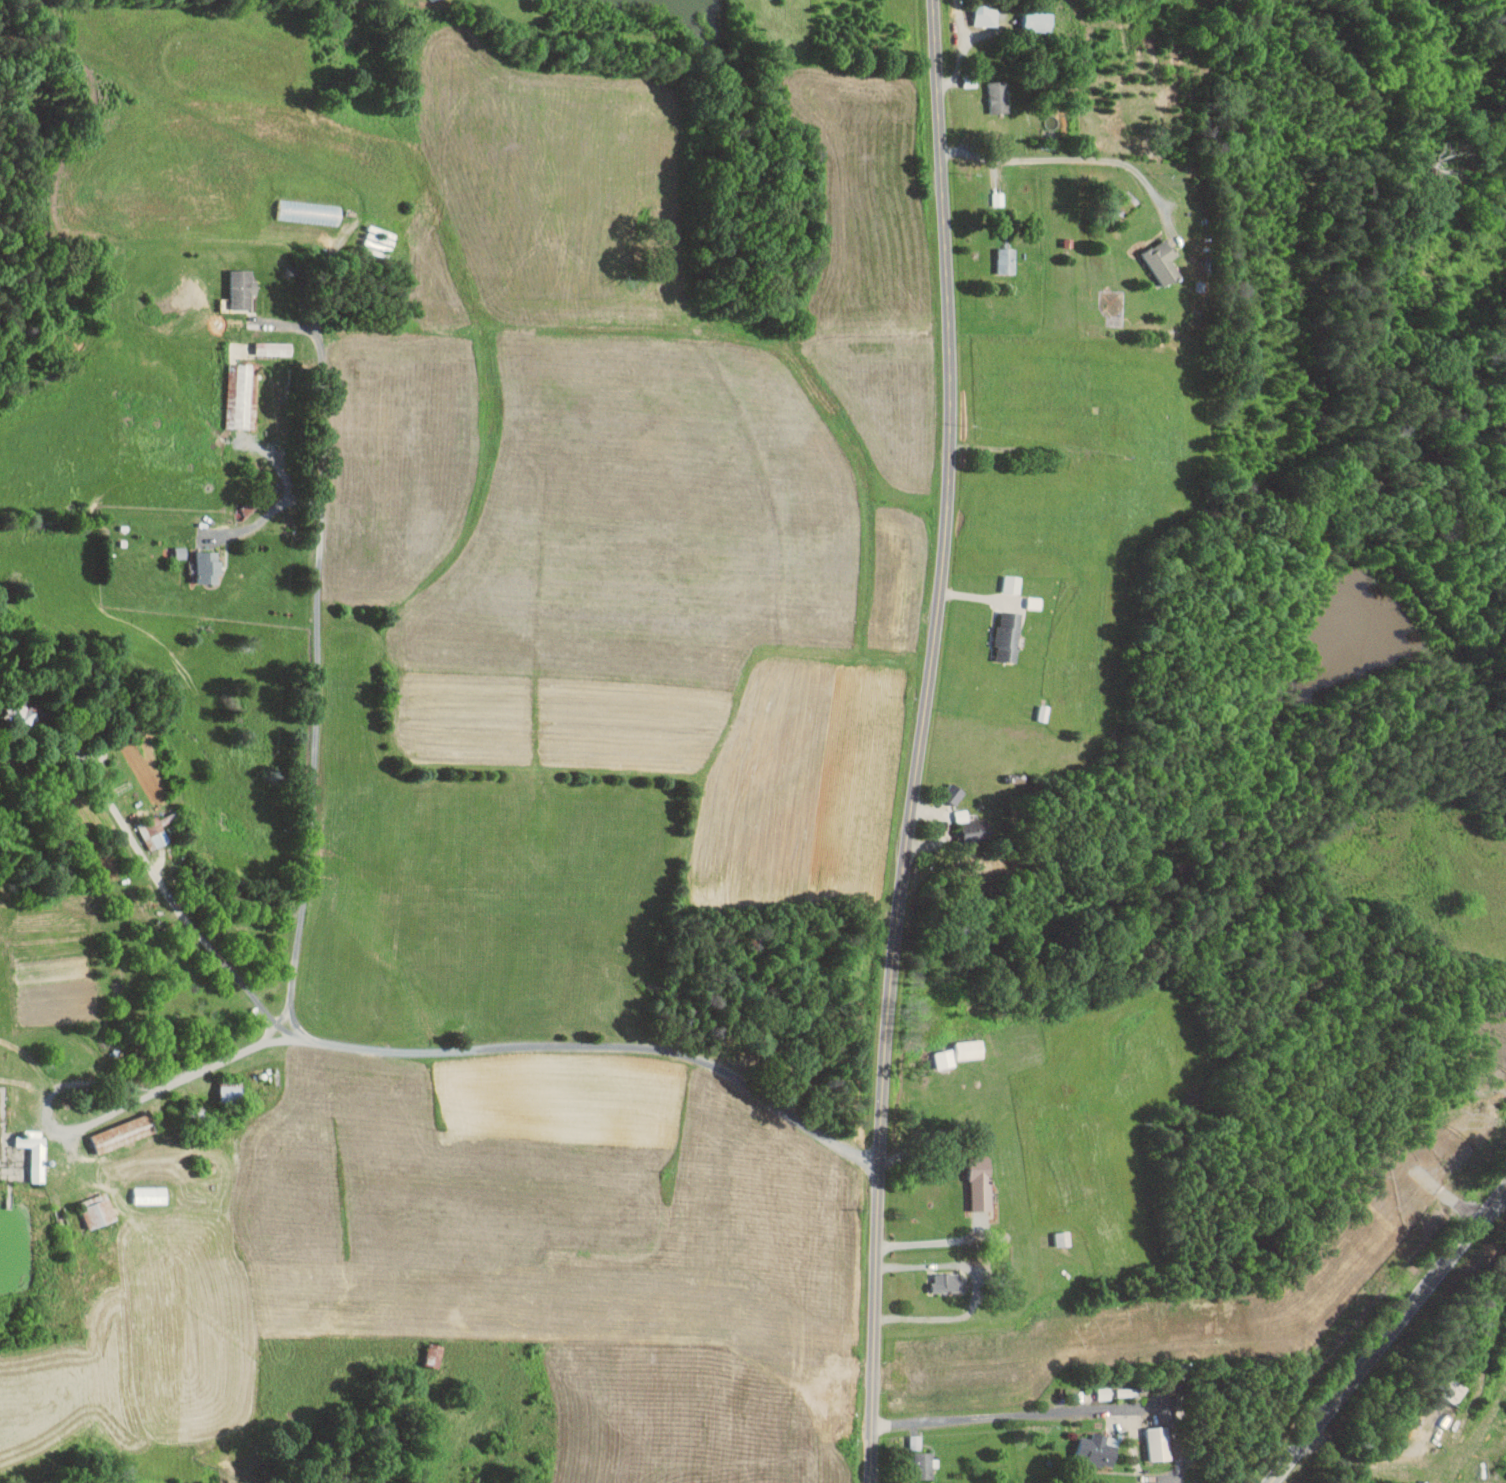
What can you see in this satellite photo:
building: (987, 14)
building: (1037, 22)
building: (999, 97)
road: (1203, 165)
road: (1150, 190)
building: (310, 211)
building: (1007, 261)
building: (1164, 263)
road: (326, 275)
building: (242, 287)
building: (274, 347)
building: (243, 394)
building: (259, 499)
road: (267, 513)
building: (208, 566)
building: (1010, 635)
building: (25, 715)
road: (921, 741)
building: (955, 793)
building: (971, 826)
building: (156, 830)
road: (171, 896)
road: (296, 958)
building: (971, 1049)
building: (946, 1058)
road: (99, 1081)
building: (231, 1094)
building: (123, 1133)
building: (35, 1152)
building: (982, 1183)
building: (151, 1195)
building: (98, 1210)
road: (935, 1241)
building: (947, 1281)
road: (977, 1288)
road: (1388, 1335)
building: (435, 1354)
road: (1059, 1412)
building: (916, 1441)
building: (1160, 1443)
building: (1099, 1449)
building: (924, 1465)

